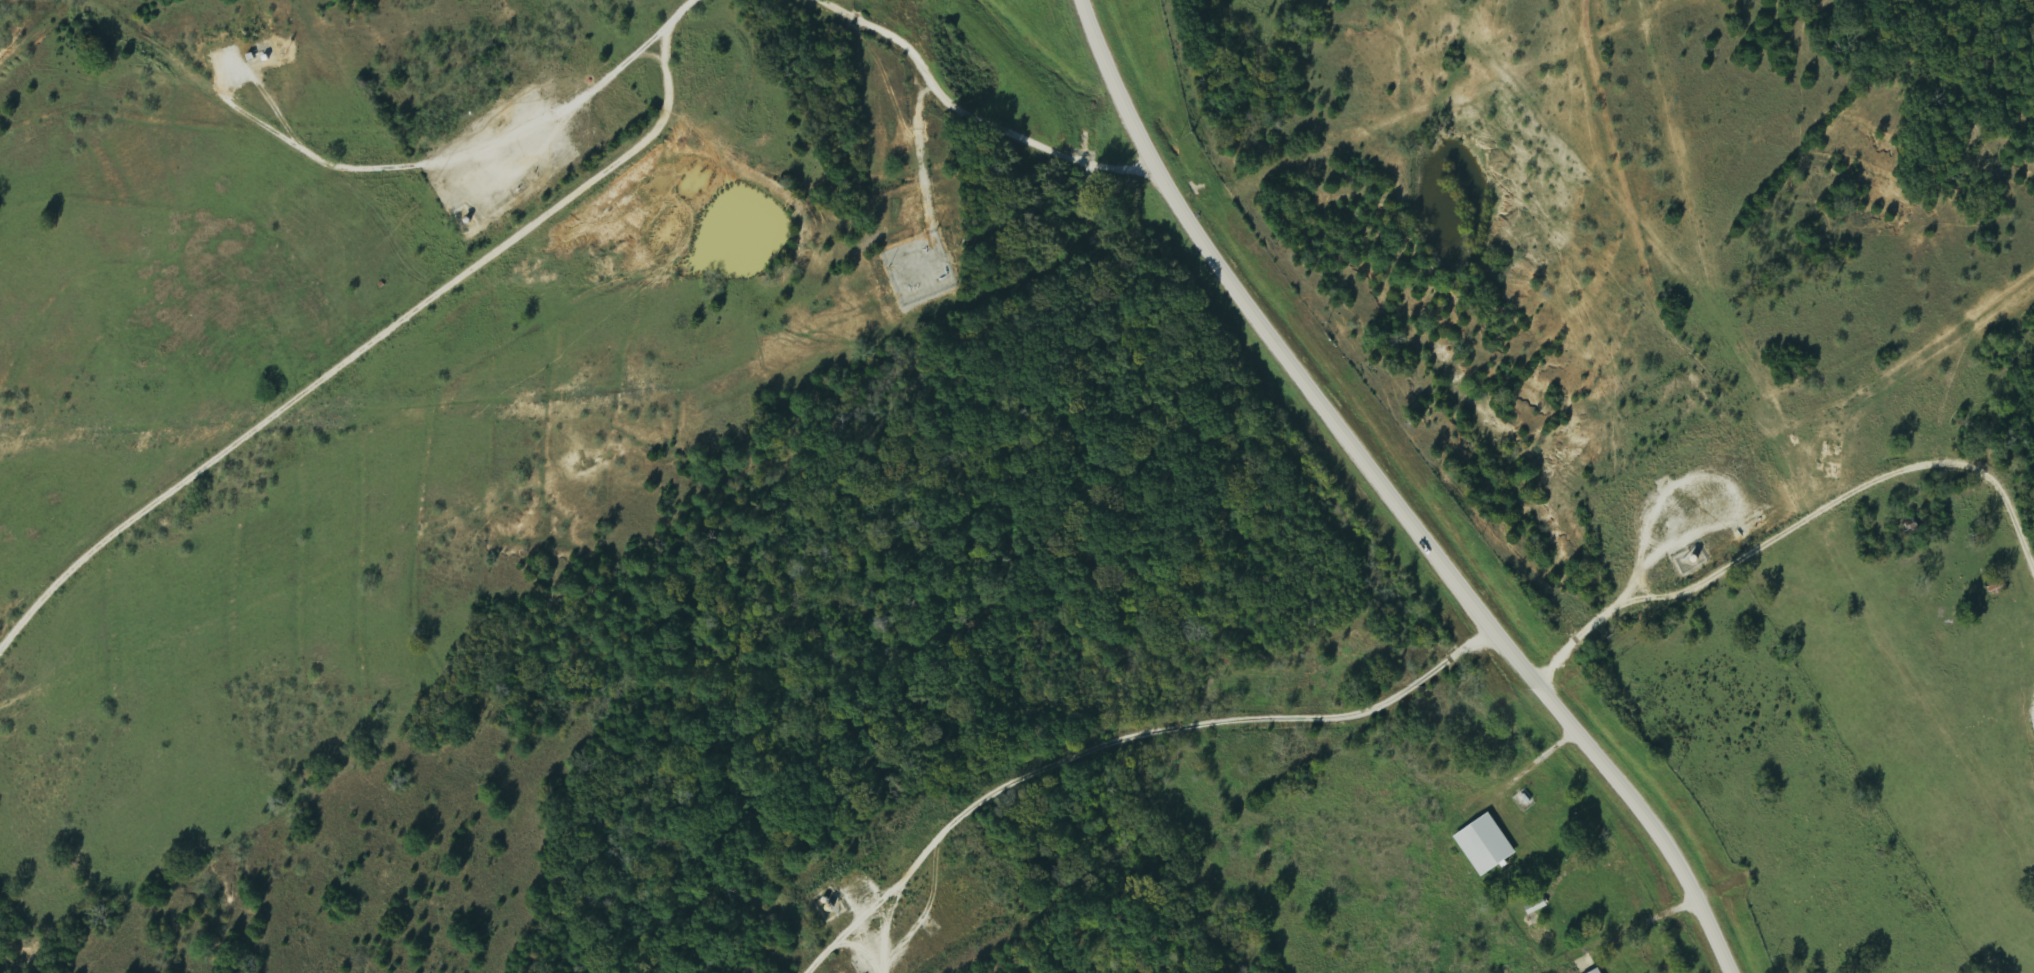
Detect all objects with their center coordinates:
road: (1392, 494)
road: (1751, 532)
building: (1489, 845)
building: (1600, 971)

